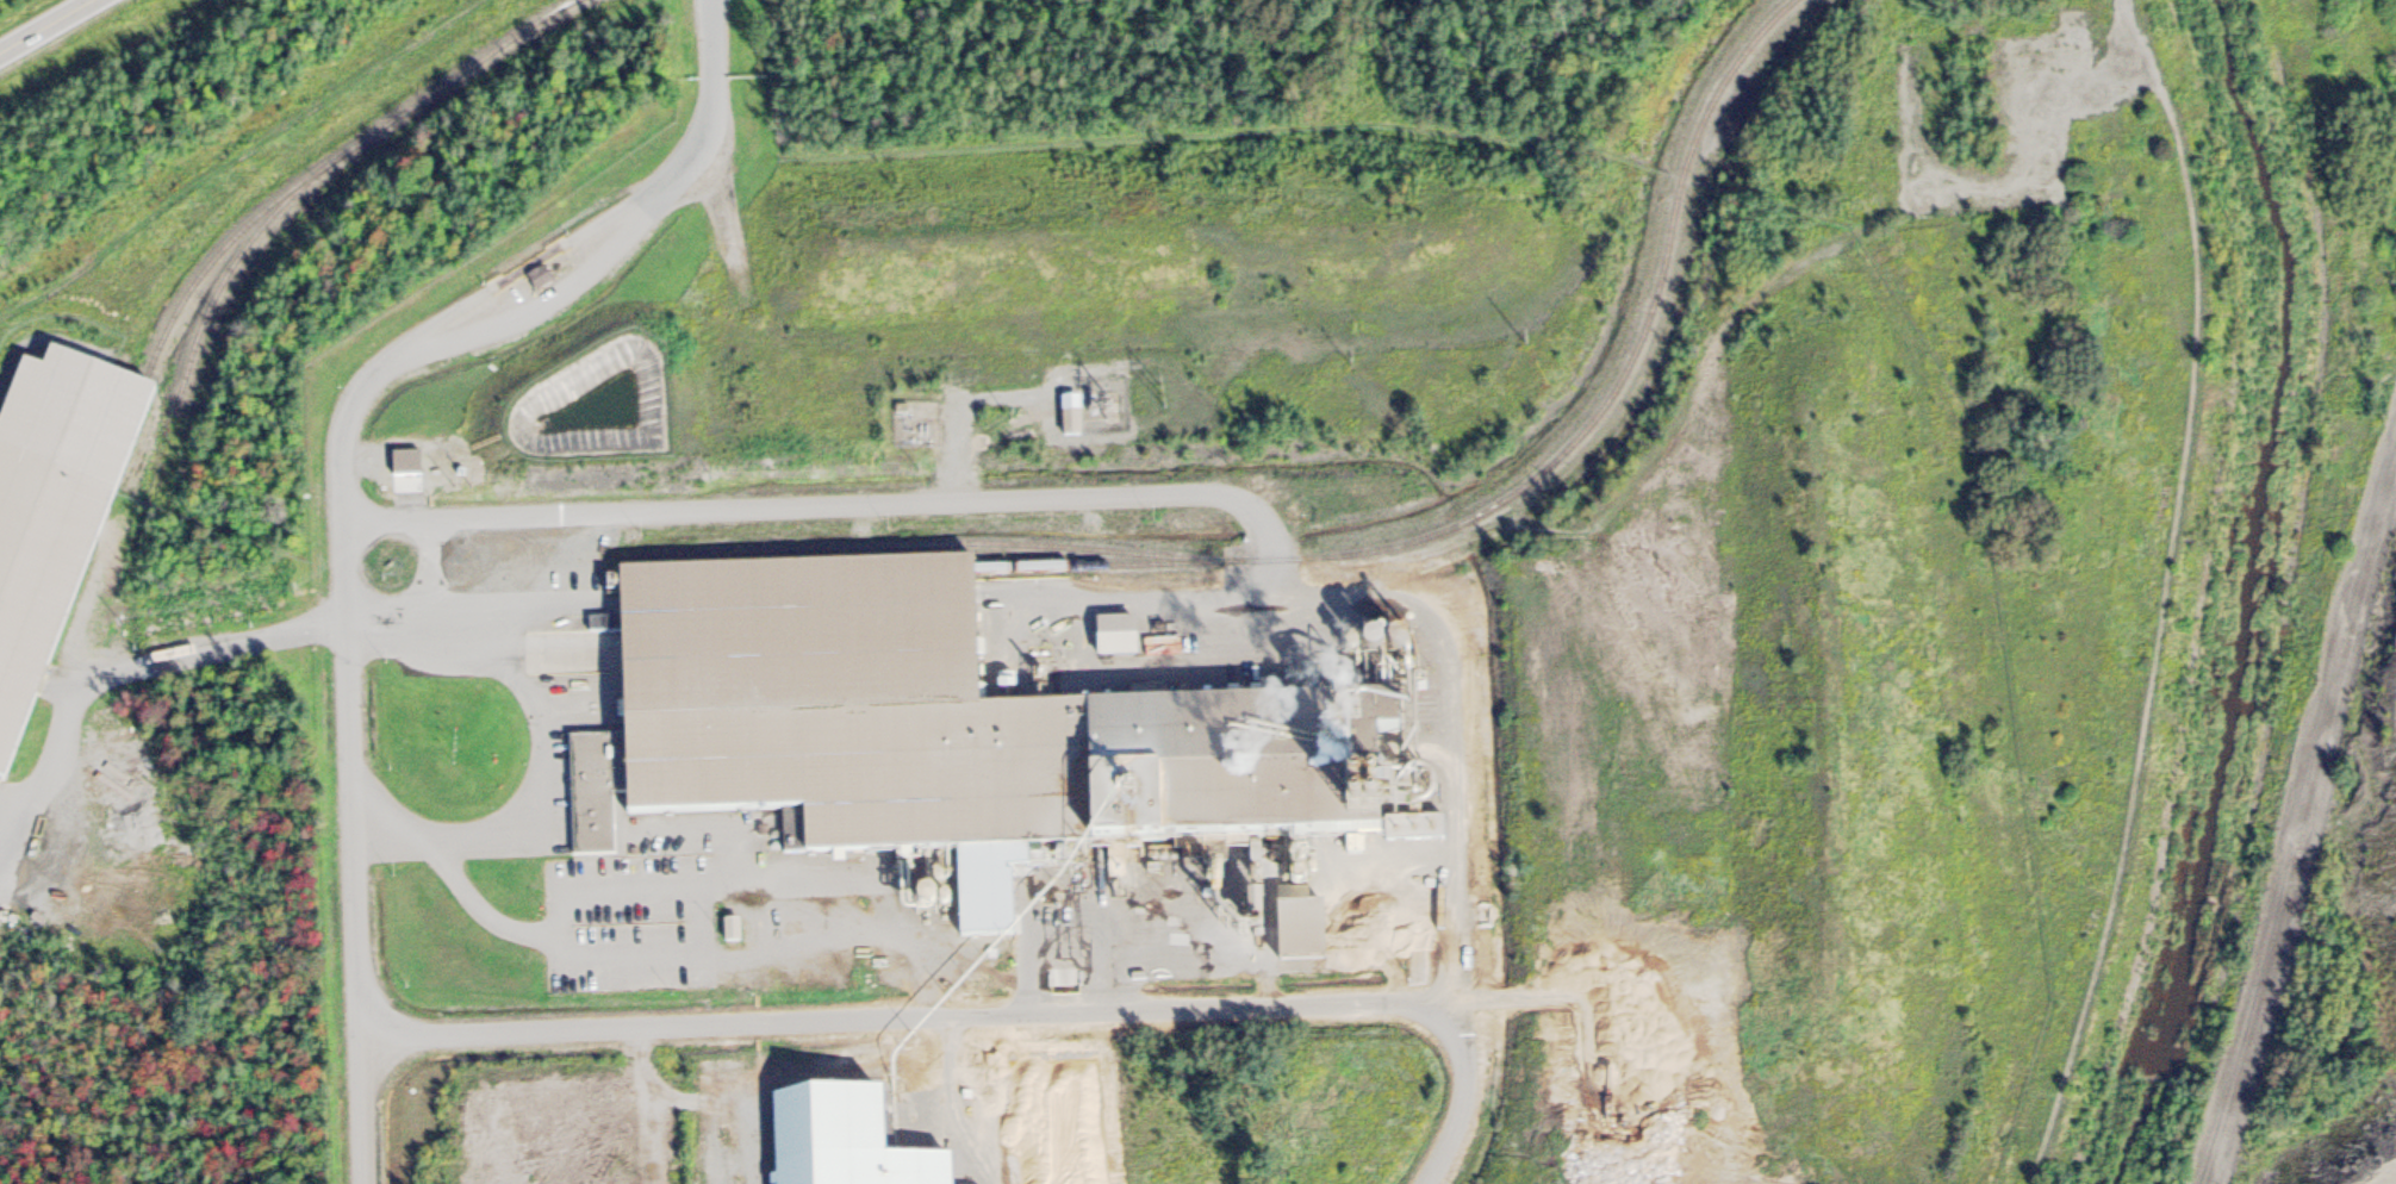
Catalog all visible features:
power substation: (1102, 405)

